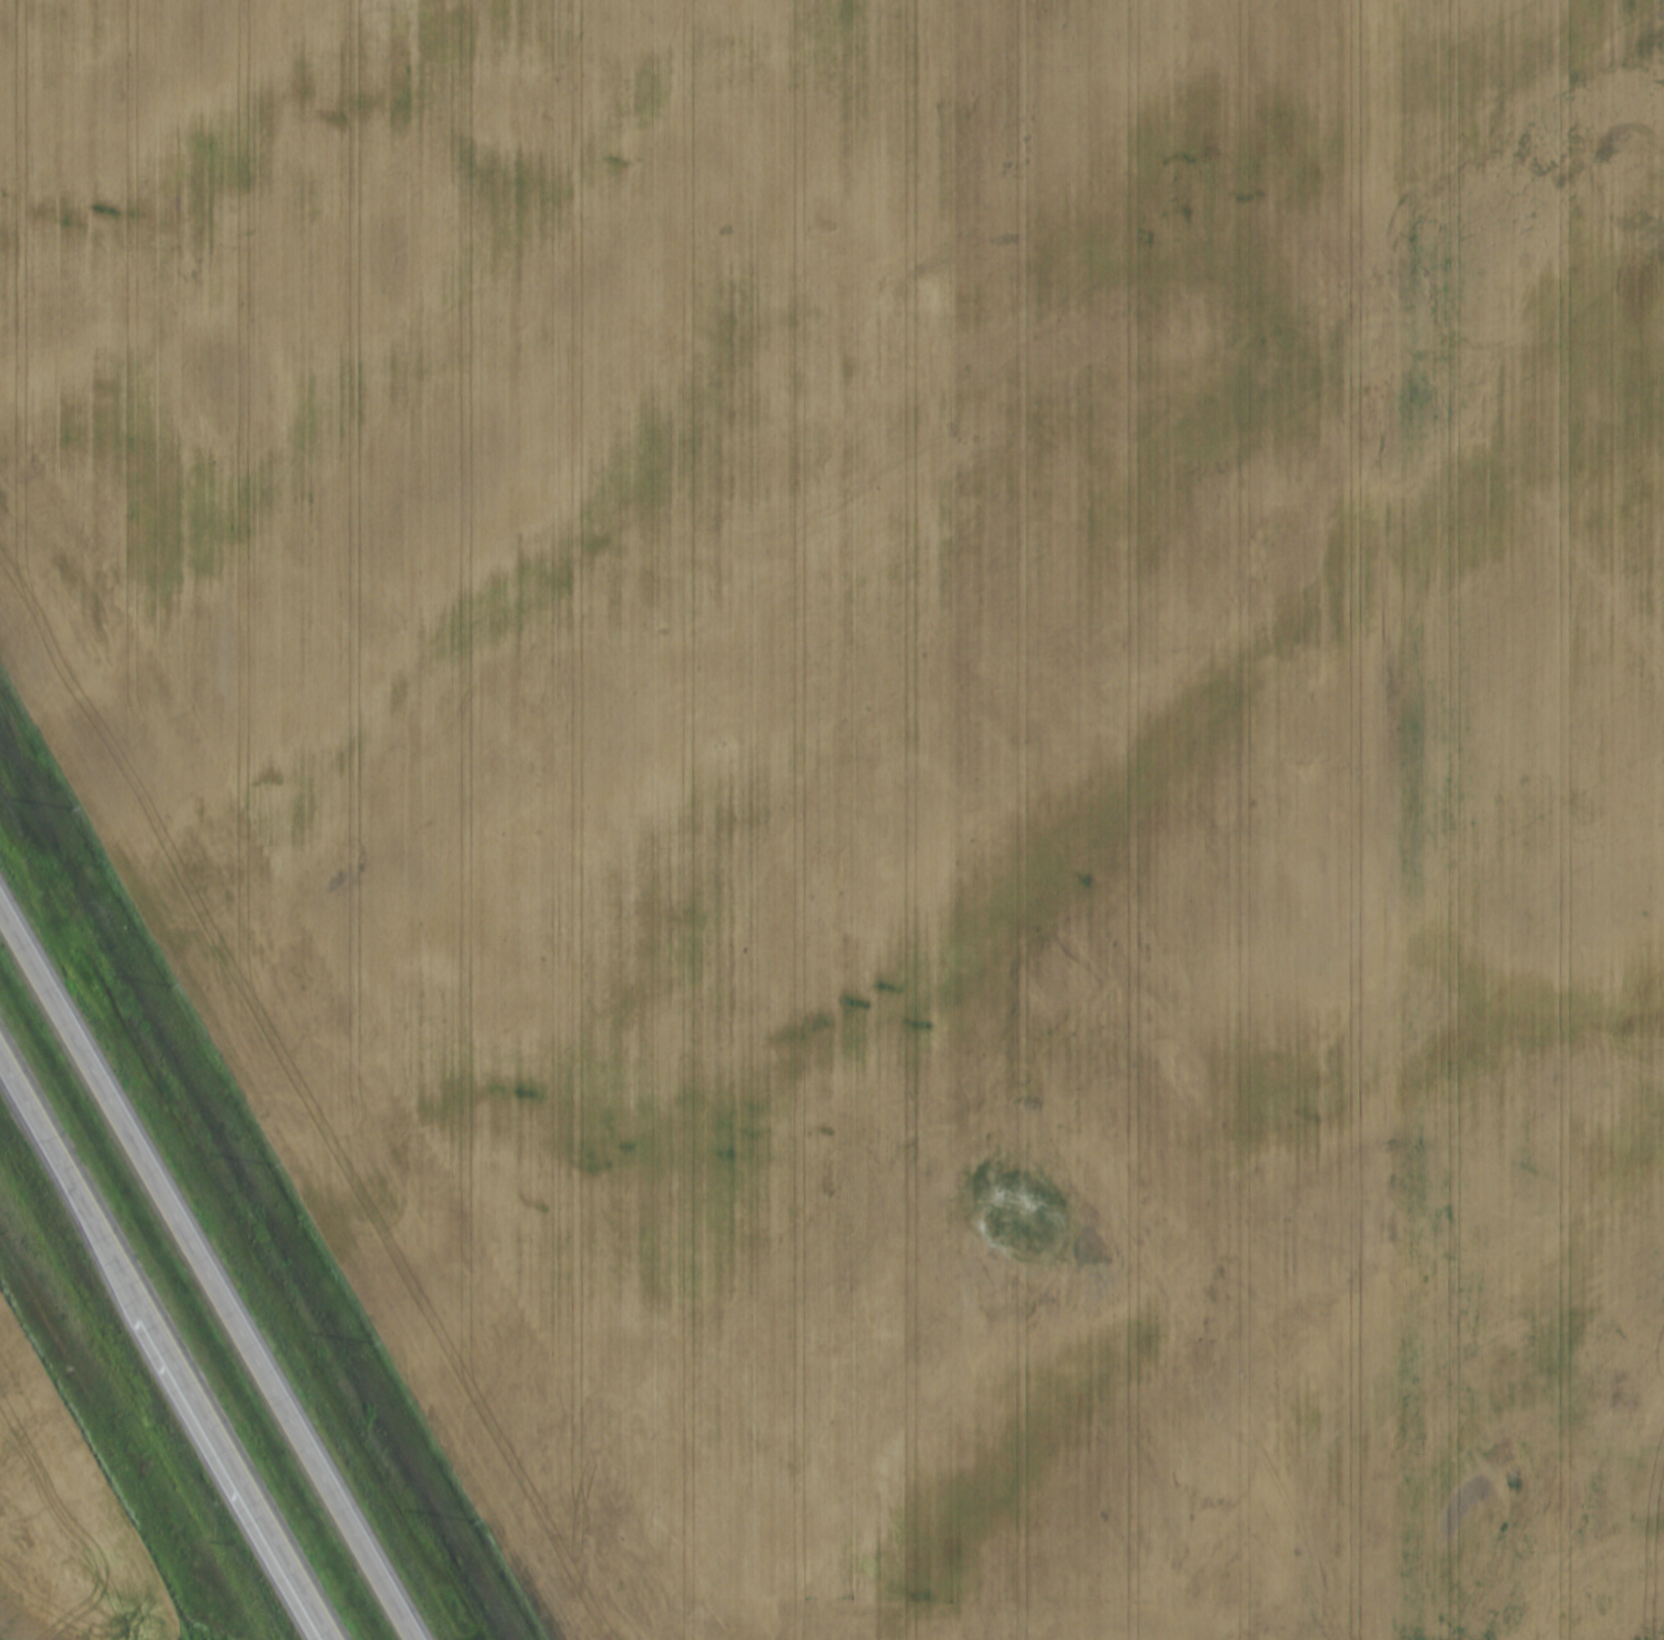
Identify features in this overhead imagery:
road: (1387, 819)
road: (70, 1178)
road: (205, 1275)
road: (236, 1471)

